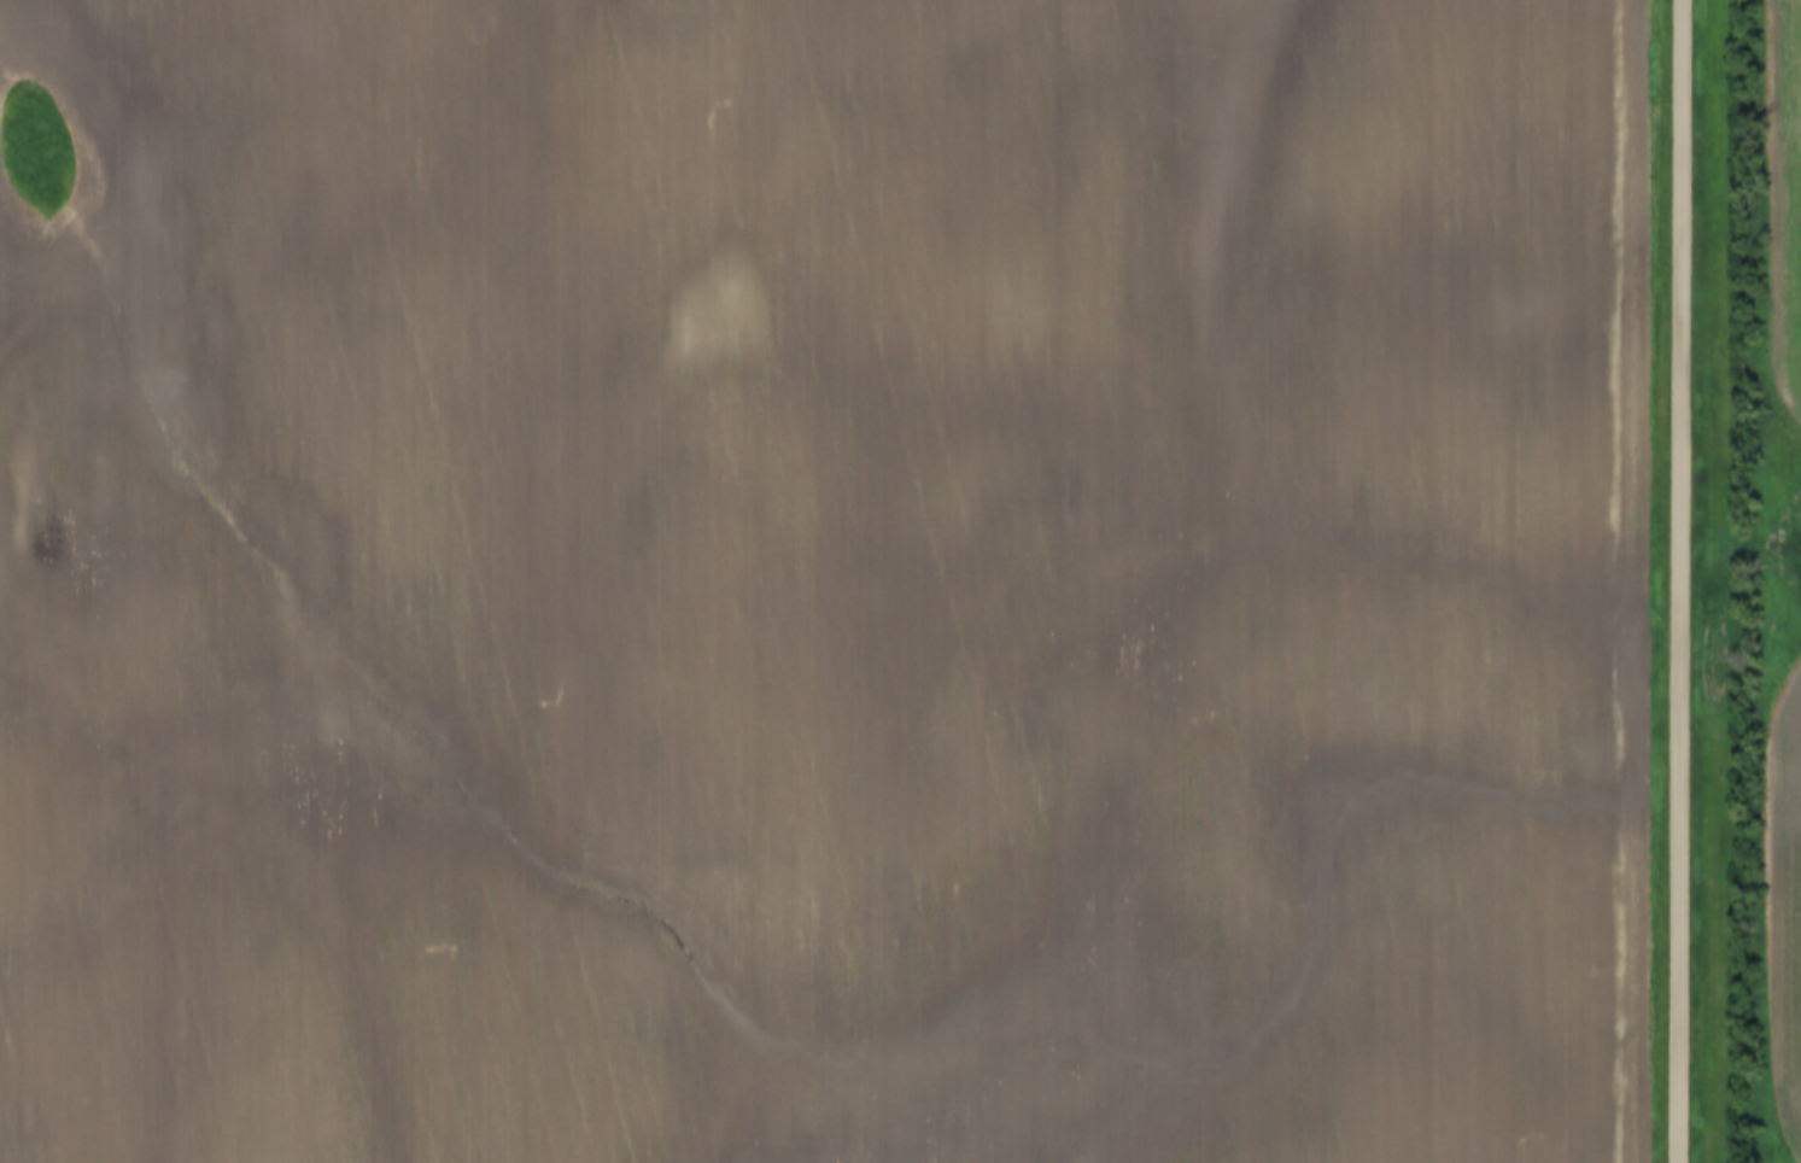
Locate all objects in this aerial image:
road: (1682, 581)

